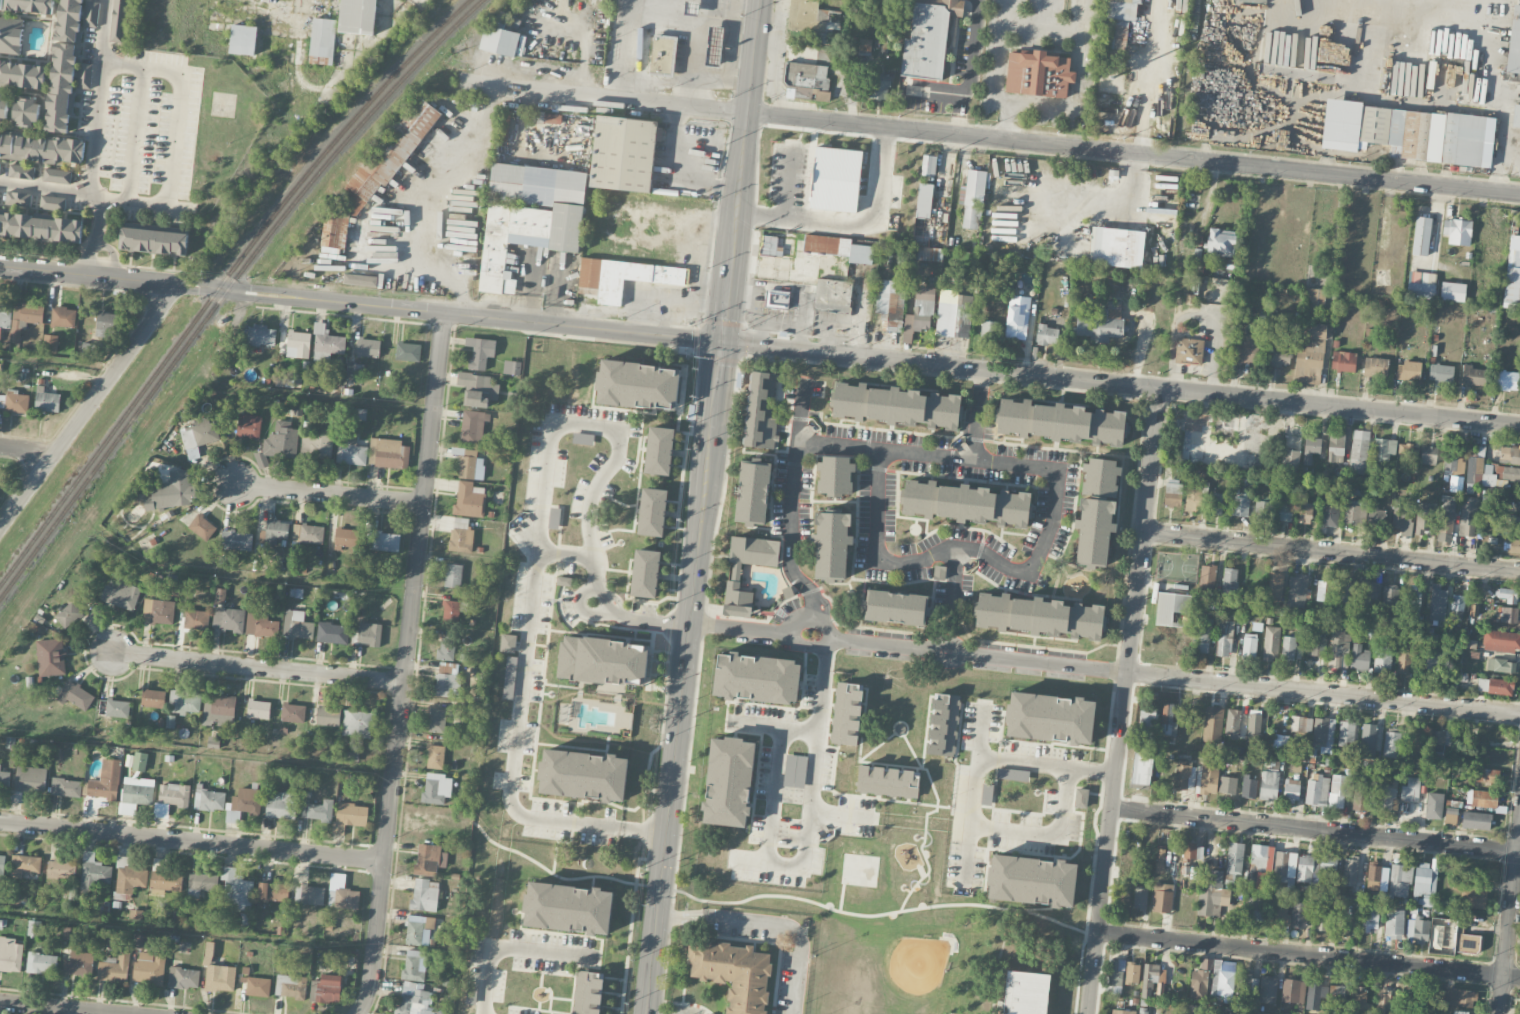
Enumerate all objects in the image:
building: (1, 4)
road: (1412, 4)
road: (1446, 4)
building: (30, 6)
building: (91, 14)
building: (358, 17)
building: (69, 20)
building: (812, 20)
building: (119, 21)
building: (1119, 22)
road: (1046, 26)
building: (11, 35)
building: (929, 39)
building: (243, 40)
building: (499, 41)
building: (1514, 41)
building: (714, 45)
building: (864, 46)
road: (627, 49)
building: (661, 53)
road: (1486, 67)
road: (997, 72)
building: (1038, 74)
building: (22, 75)
building: (806, 75)
building: (84, 76)
road: (1146, 76)
road: (1077, 85)
building: (61, 87)
building: (880, 88)
building: (813, 93)
building: (3, 107)
road: (98, 110)
building: (25, 113)
building: (1516, 116)
building: (546, 117)
building: (502, 125)
building: (1408, 131)
road: (135, 134)
road: (176, 137)
road: (1011, 139)
building: (41, 148)
building: (388, 156)
building: (474, 159)
road: (1500, 163)
building: (0, 164)
building: (929, 165)
building: (21, 172)
building: (57, 176)
building: (835, 179)
road: (45, 188)
building: (561, 195)
building: (972, 198)
building: (17, 199)
building: (924, 200)
building: (52, 203)
road: (849, 223)
building: (41, 227)
building: (335, 230)
building: (1458, 231)
building: (1421, 235)
building: (153, 241)
building: (1221, 242)
building: (820, 244)
building: (770, 246)
road: (97, 247)
building: (1116, 247)
building: (856, 251)
road: (443, 255)
building: (624, 277)
building: (1512, 277)
building: (360, 280)
railway: (222, 282)
building: (1421, 284)
railway: (227, 287)
building: (1453, 291)
building: (1313, 298)
building: (776, 299)
building: (891, 304)
building: (921, 310)
building: (5, 314)
building: (954, 314)
road: (1197, 315)
building: (63, 317)
building: (1018, 317)
building: (24, 319)
building: (1102, 323)
building: (108, 325)
building: (989, 330)
building: (1317, 330)
building: (1048, 331)
building: (261, 336)
traffic signals: (721, 341)
building: (50, 344)
building: (326, 344)
building: (298, 345)
road: (760, 345)
building: (368, 348)
building: (1247, 349)
building: (1189, 350)
building: (88, 351)
building: (1309, 351)
building: (408, 352)
building: (480, 352)
building: (1278, 355)
road: (57, 361)
building: (1343, 361)
building: (1376, 366)
building: (512, 367)
building: (1408, 370)
building: (353, 372)
building: (1441, 373)
building: (1474, 375)
building: (1506, 380)
building: (639, 384)
building: (475, 388)
road: (314, 397)
building: (14, 401)
building: (47, 401)
road: (89, 405)
building: (897, 405)
building: (763, 409)
road: (977, 414)
building: (1061, 421)
building: (473, 425)
building: (248, 427)
building: (199, 434)
building: (582, 438)
building: (280, 443)
building: (316, 447)
building: (1336, 447)
road: (26, 448)
building: (1311, 448)
building: (658, 449)
building: (1383, 450)
building: (1359, 451)
building: (351, 453)
building: (388, 454)
building: (1406, 454)
building: (1428, 454)
building: (1509, 455)
building: (1290, 461)
road: (131, 473)
road: (604, 474)
building: (835, 474)
building: (1473, 474)
building: (1499, 475)
building: (753, 491)
building: (172, 492)
road: (328, 493)
building: (1173, 494)
building: (1196, 495)
building: (469, 499)
building: (966, 501)
building: (1216, 503)
building: (1241, 504)
road: (702, 506)
road: (791, 507)
building: (1263, 509)
building: (1284, 509)
building: (1304, 510)
building: (653, 511)
building: (1096, 511)
building: (1330, 511)
building: (1353, 511)
building: (1375, 514)
building: (1402, 516)
building: (1468, 516)
building: (553, 517)
building: (1424, 517)
building: (1516, 521)
building: (1445, 526)
building: (202, 527)
road: (1048, 529)
building: (276, 531)
building: (308, 534)
building: (460, 535)
building: (346, 538)
building: (381, 539)
building: (236, 541)
building: (831, 546)
building: (1514, 546)
road: (1332, 552)
road: (567, 555)
building: (646, 573)
building: (734, 573)
road: (247, 575)
building: (453, 575)
road: (954, 577)
building: (1207, 578)
building: (1230, 581)
building: (1275, 584)
road: (594, 590)
building: (1324, 590)
building: (1297, 591)
building: (1345, 592)
building: (122, 595)
building: (1509, 595)
building: (1367, 596)
building: (1390, 599)
building: (1414, 600)
building: (1438, 601)
building: (897, 606)
building: (1457, 606)
building: (1173, 609)
building: (158, 612)
building: (450, 612)
building: (1507, 614)
building: (1040, 615)
building: (69, 616)
building: (196, 620)
building: (228, 620)
road: (645, 620)
building: (297, 625)
building: (261, 626)
road: (754, 627)
building: (333, 633)
building: (369, 634)
building: (1201, 634)
building: (1224, 638)
building: (1501, 640)
building: (507, 643)
building: (1271, 643)
building: (1249, 645)
building: (1317, 646)
building: (446, 647)
building: (1338, 647)
building: (1288, 648)
road: (973, 652)
building: (1406, 656)
building: (51, 657)
building: (1359, 657)
building: (604, 660)
building: (1382, 660)
road: (405, 665)
building: (1502, 665)
road: (258, 668)
building: (509, 677)
building: (757, 677)
building: (447, 685)
building: (1495, 686)
road: (523, 692)
road: (1324, 694)
building: (75, 696)
building: (153, 699)
road: (1124, 701)
building: (185, 702)
building: (114, 708)
building: (219, 709)
building: (258, 709)
building: (847, 711)
building: (293, 713)
building: (328, 716)
building: (1148, 716)
building: (1051, 717)
building: (1168, 720)
building: (437, 721)
building: (943, 722)
building: (1232, 723)
building: (356, 724)
building: (1213, 724)
road: (775, 726)
building: (1301, 726)
building: (1254, 728)
building: (1345, 733)
building: (1368, 736)
building: (1415, 740)
building: (1280, 741)
building: (1436, 741)
building: (1392, 744)
road: (197, 748)
road: (816, 751)
building: (435, 757)
building: (139, 762)
road: (1047, 764)
building: (1142, 767)
building: (795, 770)
building: (584, 775)
building: (1183, 775)
building: (1490, 776)
building: (1206, 779)
building: (4, 780)
building: (30, 780)
building: (106, 781)
building: (729, 781)
building: (889, 782)
building: (1227, 785)
building: (1269, 785)
building: (1249, 787)
building: (66, 788)
building: (437, 788)
building: (1317, 789)
building: (1411, 789)
building: (1291, 790)
building: (1337, 791)
building: (136, 794)
building: (987, 794)
road: (775, 795)
road: (972, 795)
building: (1361, 795)
building: (1386, 795)
building: (1081, 797)
building: (171, 798)
building: (1485, 798)
building: (210, 800)
building: (247, 801)
building: (281, 805)
building: (1434, 805)
building: (319, 811)
road: (840, 814)
building: (350, 816)
building: (1451, 816)
building: (1476, 820)
road: (1316, 830)
road: (1050, 836)
road: (192, 841)
building: (1189, 851)
building: (429, 860)
building: (1160, 860)
building: (1234, 861)
building: (1257, 861)
road: (766, 862)
building: (1329, 864)
building: (25, 865)
building: (2, 867)
building: (1284, 867)
building: (1306, 869)
building: (61, 871)
building: (95, 871)
building: (1350, 871)
building: (1376, 876)
building: (1034, 880)
building: (1400, 880)
building: (129, 881)
building: (165, 883)
building: (202, 883)
building: (1426, 884)
building: (236, 891)
building: (273, 892)
building: (1210, 894)
building: (1472, 894)
building: (425, 895)
building: (312, 896)
building: (1140, 897)
building: (1162, 897)
building: (343, 898)
building: (569, 908)
building: (1255, 908)
building: (1279, 913)
building: (1299, 915)
road: (685, 919)
building: (1322, 920)
building: (1370, 920)
building: (1394, 923)
building: (34, 928)
building: (418, 929)
building: (1418, 930)
road: (187, 931)
road: (796, 931)
road: (1510, 932)
building: (1436, 937)
building: (140, 941)
building: (1466, 941)
road: (508, 946)
road: (1309, 953)
building: (10, 955)
building: (41, 963)
building: (79, 964)
building: (415, 965)
building: (114, 969)
building: (149, 969)
park: (899, 969)
building: (1132, 972)
building: (735, 973)
building: (1117, 976)
building: (184, 978)
building: (220, 978)
building: (1222, 979)
building: (1200, 981)
building: (1246, 985)
building: (258, 987)
building: (291, 987)
building: (327, 989)
building: (1268, 989)
building: (1293, 990)
building: (587, 992)
building: (1025, 993)
building: (1336, 993)
building: (1314, 994)
building: (1460, 997)
building: (414, 999)
building: (1361, 1003)
building: (1384, 1003)
road: (63, 1007)
building: (1196, 1009)
building: (1143, 1010)
building: (1123, 1011)
building: (1462, 1012)
building: (1215, 1013)
building: (1285, 1013)

